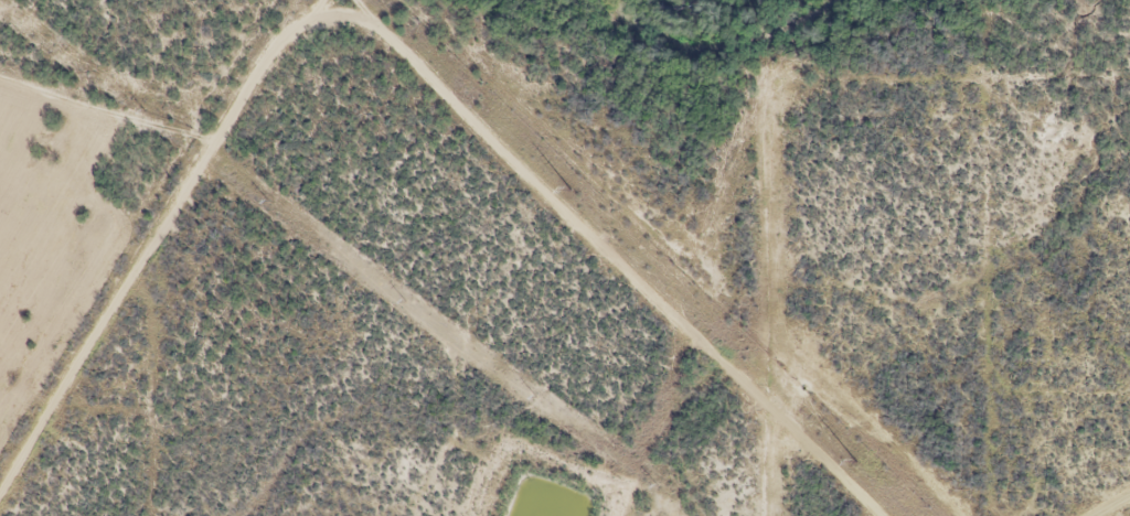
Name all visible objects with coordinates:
power tower: (569, 191)
power tower: (855, 462)

